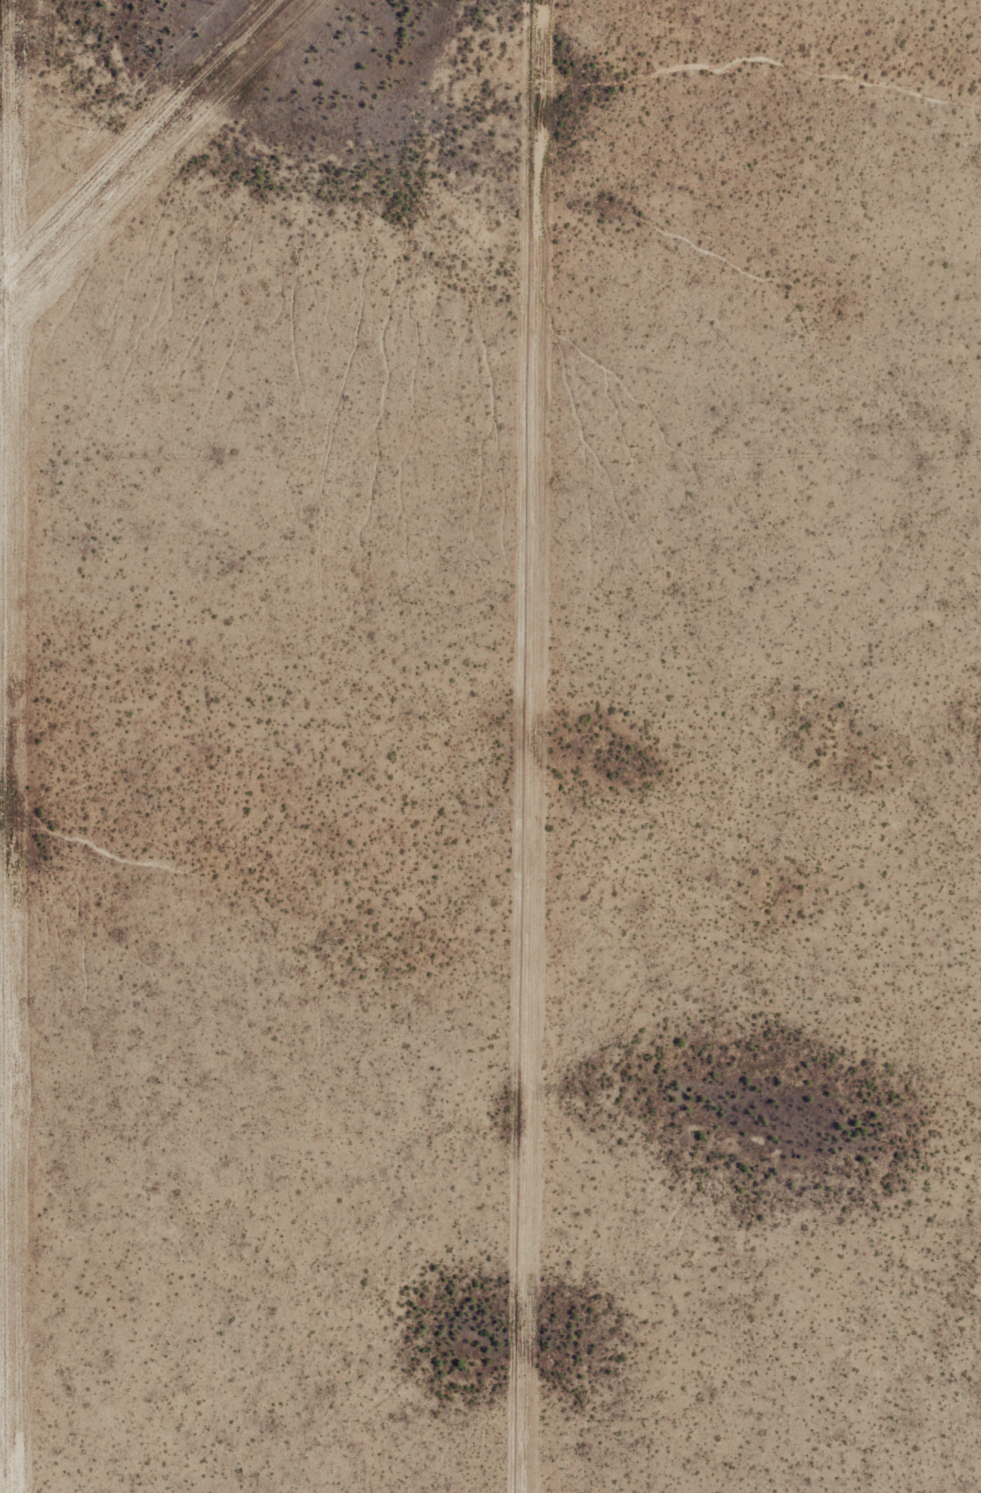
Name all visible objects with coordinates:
road: (260, 1437)
road: (635, 1484)

